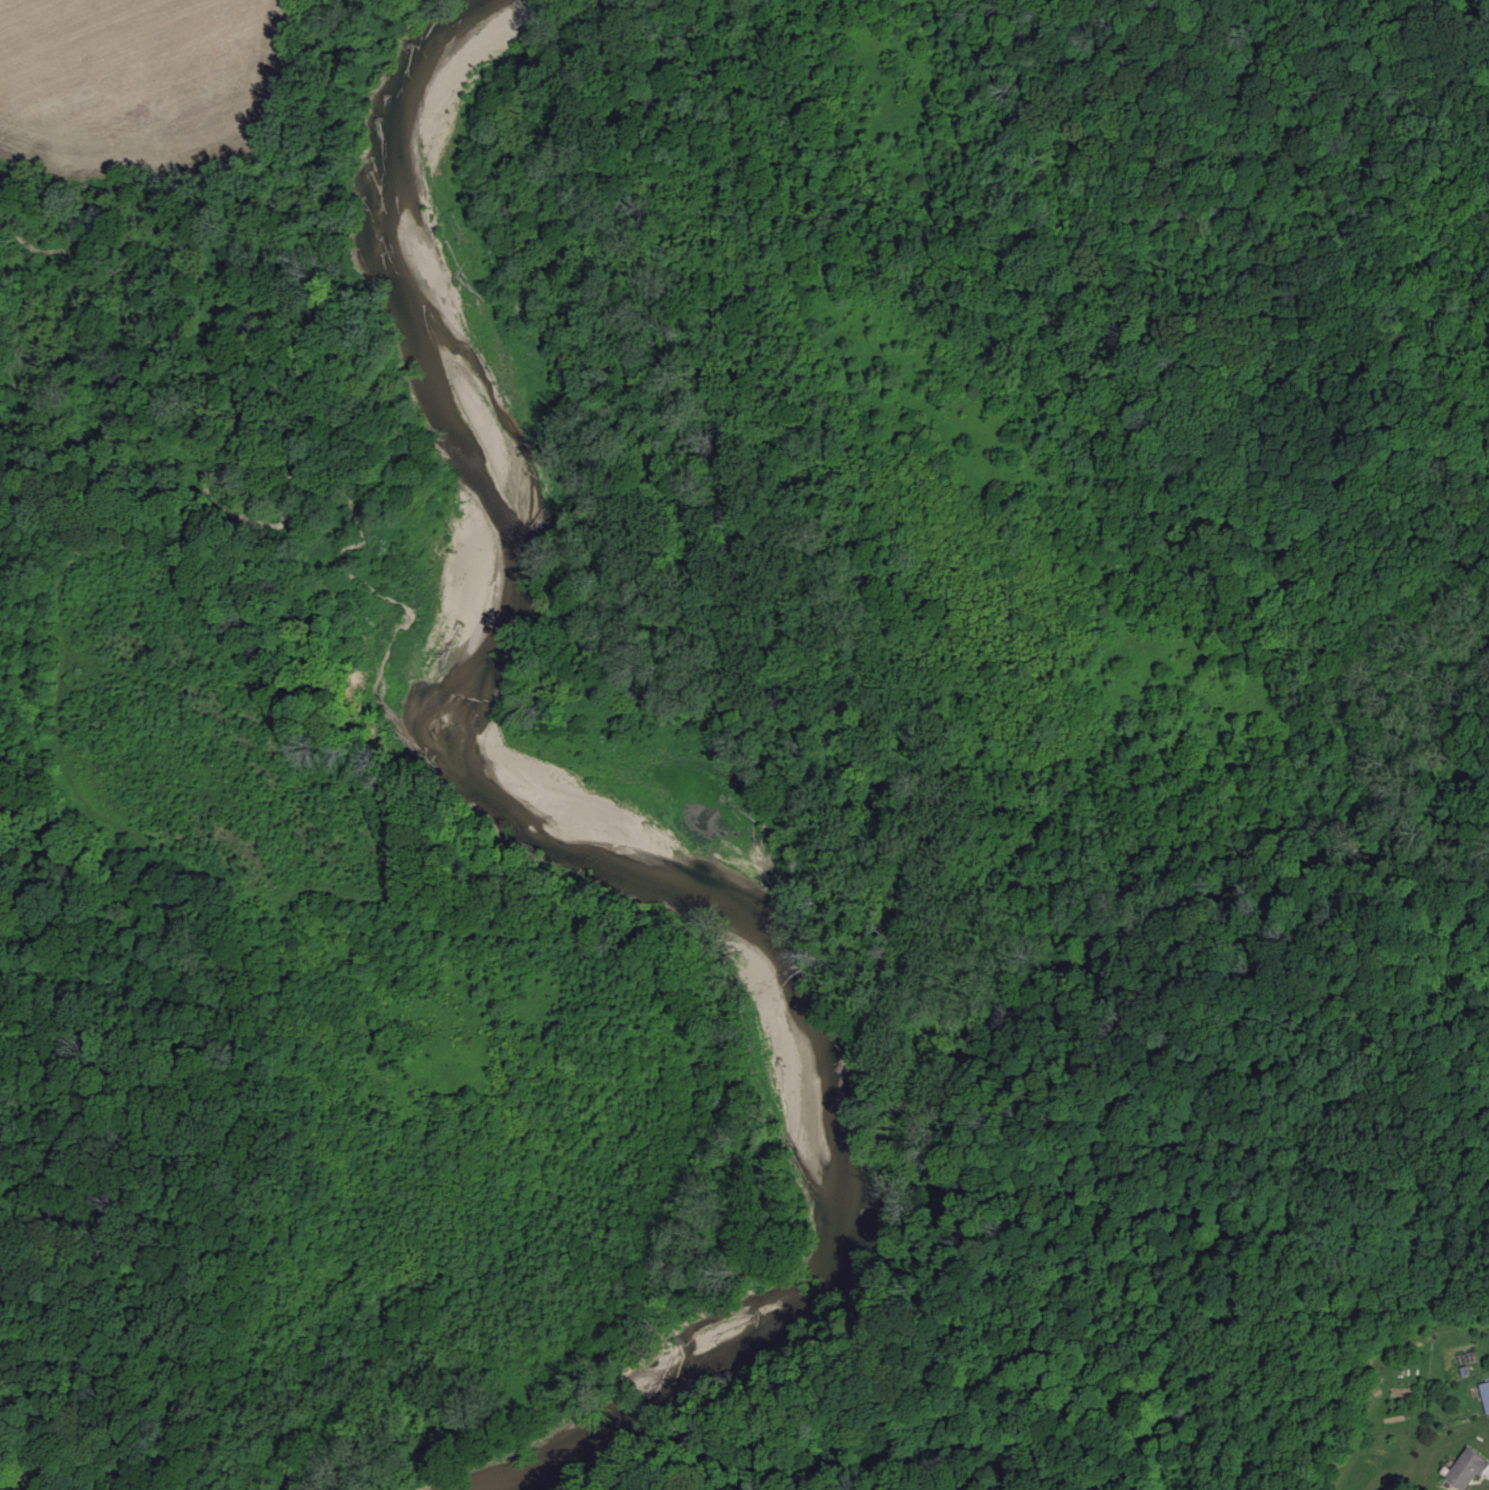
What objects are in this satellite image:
road: (143, 550)
river: (610, 766)
road: (183, 998)
building: (1485, 1395)
building: (1471, 1466)

